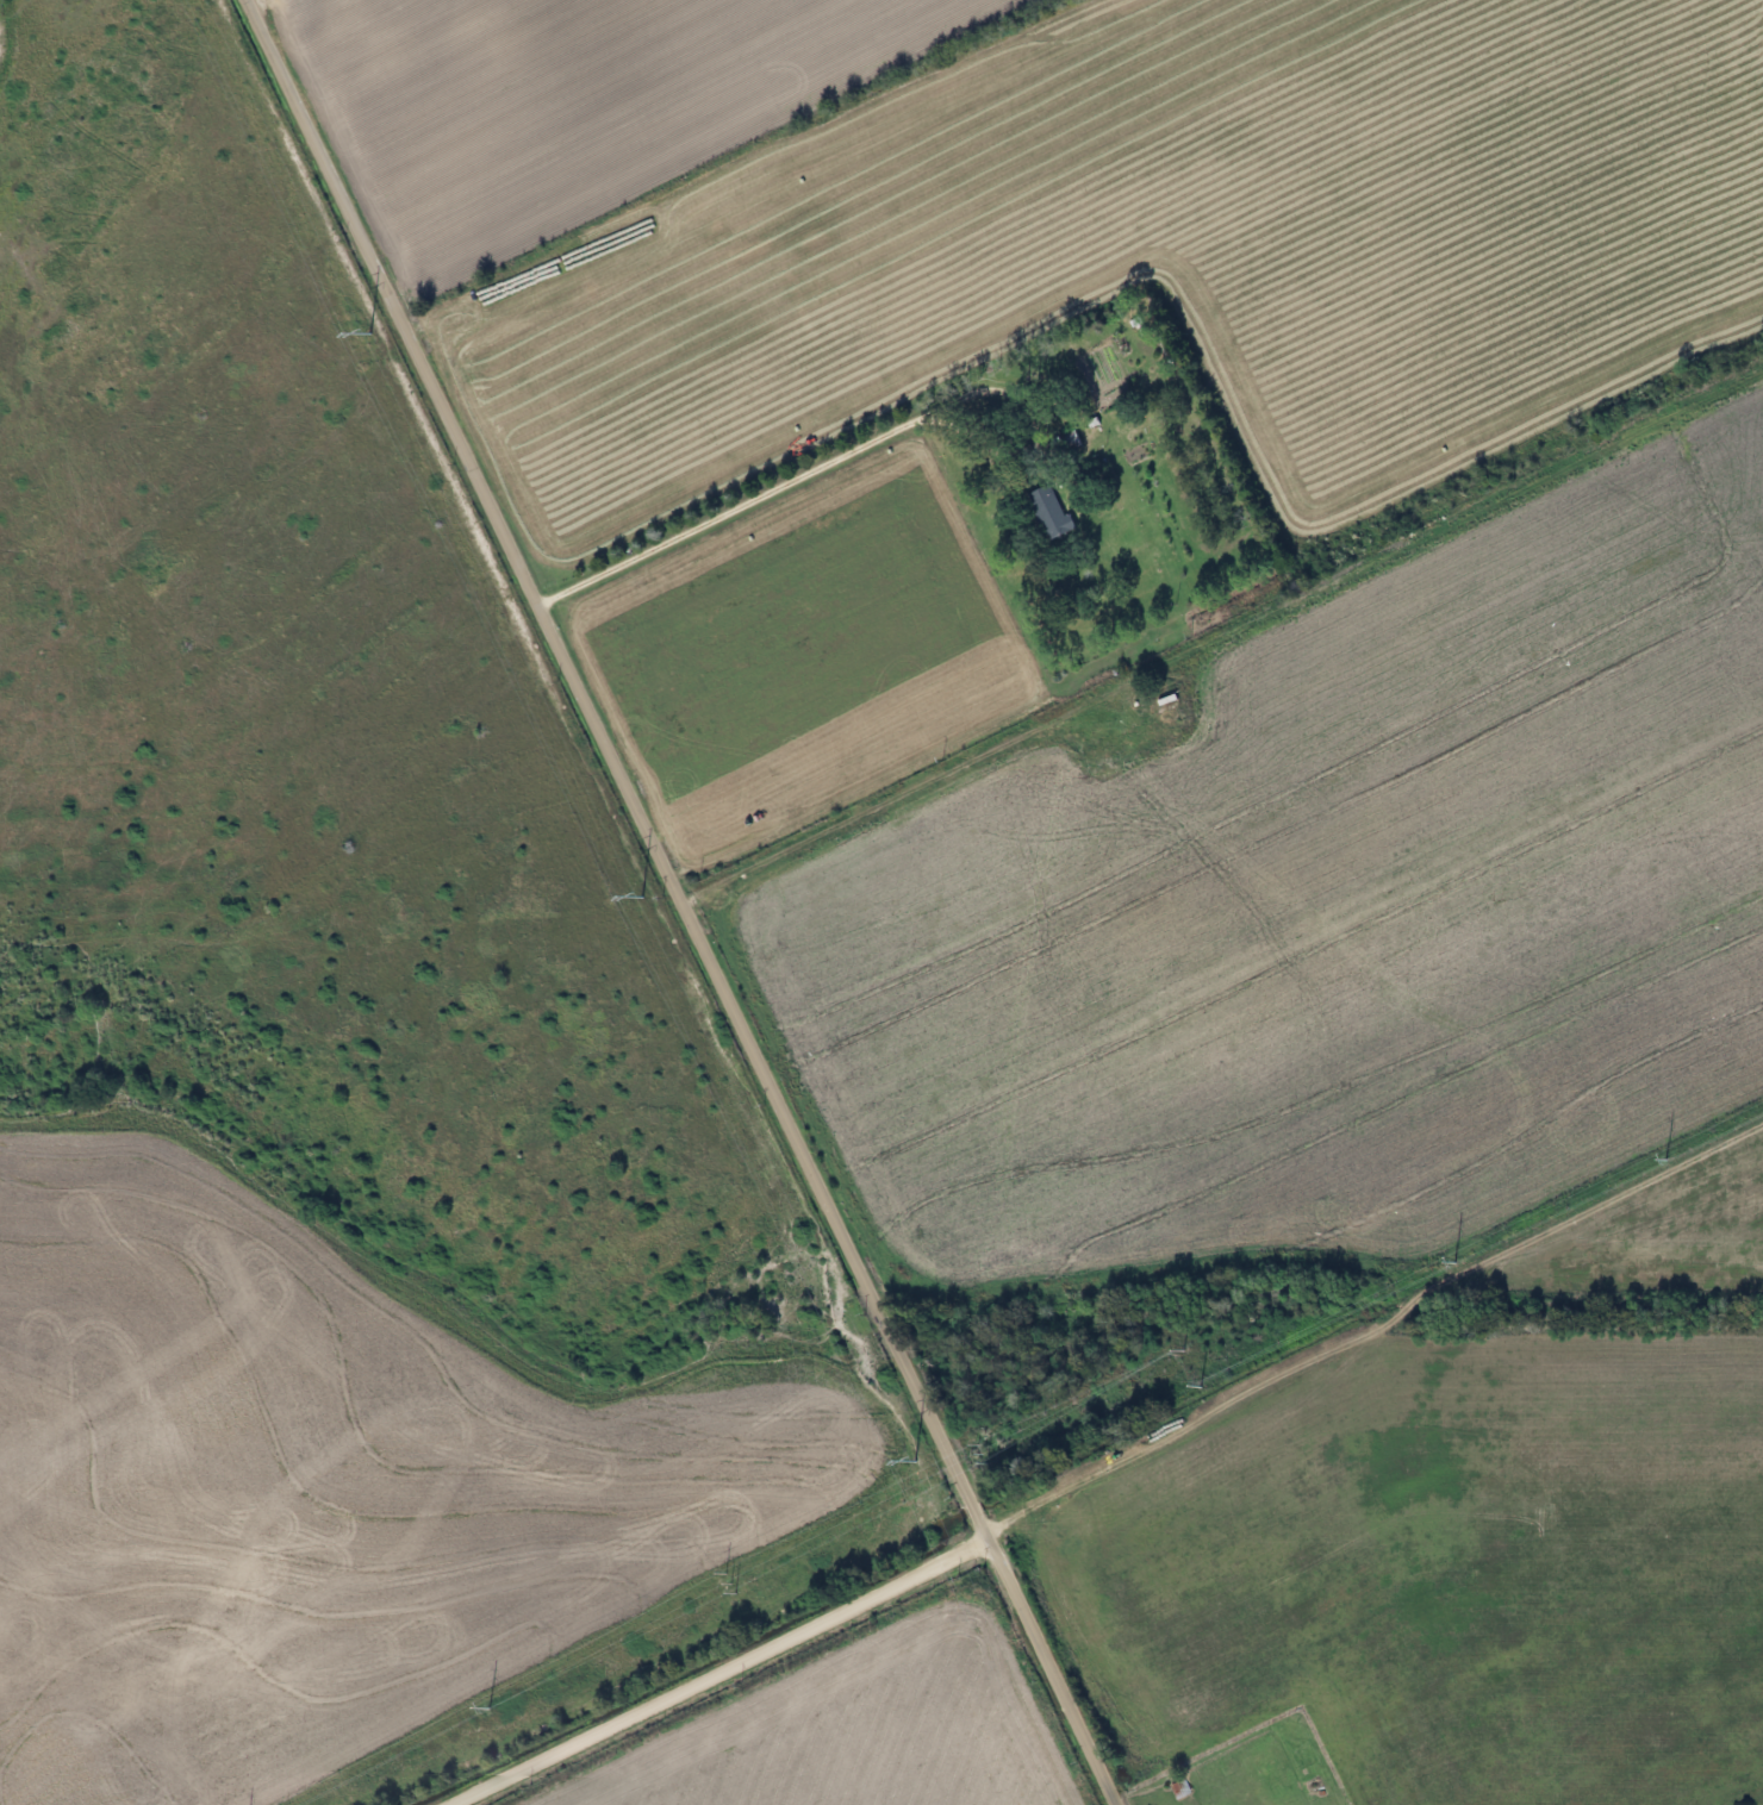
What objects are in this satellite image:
power tower: (367, 332)
building: (1063, 438)
road: (768, 493)
building: (1042, 512)
power tower: (641, 897)
road: (684, 903)
power tower: (912, 1461)
road: (722, 1674)
road: (1200, 1759)

